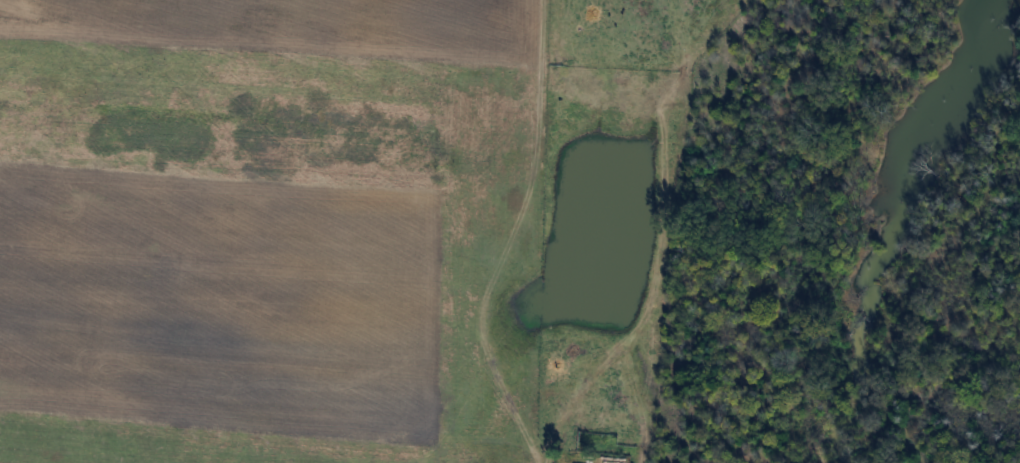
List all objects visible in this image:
road: (569, 404)

